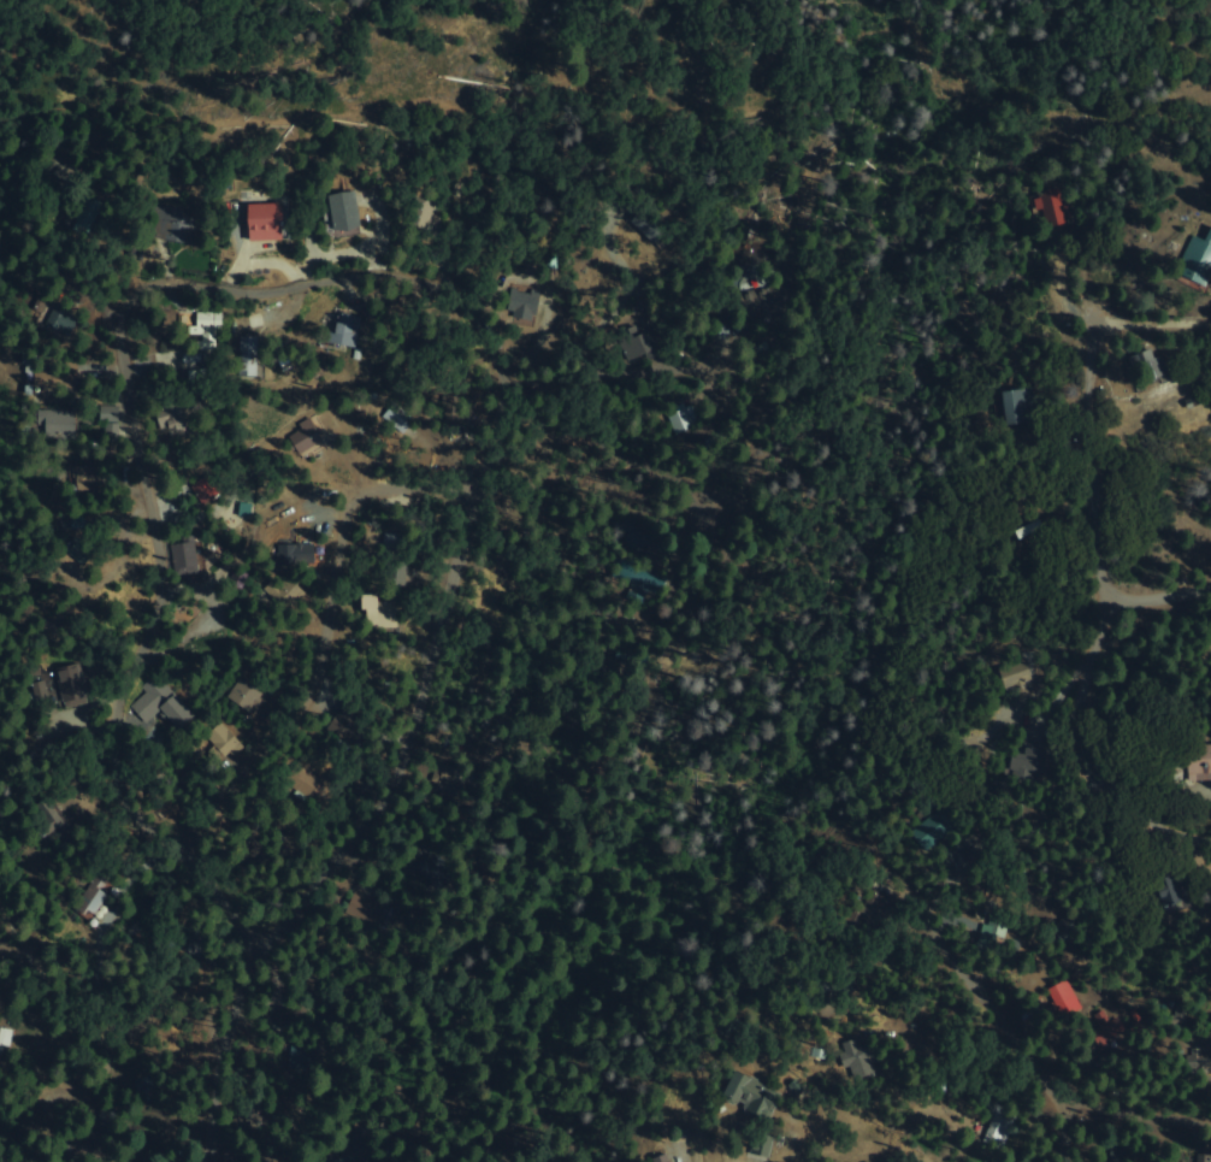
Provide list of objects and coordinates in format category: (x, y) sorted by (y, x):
road: (632, 90)
building: (1046, 210)
building: (342, 211)
building: (83, 218)
building: (268, 220)
building: (187, 230)
building: (1195, 258)
building: (764, 305)
building: (341, 330)
building: (208, 332)
building: (355, 354)
building: (1144, 367)
road: (131, 382)
building: (1014, 407)
road: (1091, 409)
building: (677, 417)
building: (395, 419)
building: (171, 420)
building: (107, 424)
building: (302, 435)
road: (639, 454)
building: (88, 478)
building: (283, 590)
road: (1157, 601)
building: (379, 612)
road: (323, 620)
building: (71, 683)
building: (160, 706)
building: (339, 731)
road: (940, 754)
road: (1087, 762)
building: (1191, 762)
building: (929, 826)
road: (350, 838)
building: (90, 902)
building: (988, 928)
road: (997, 972)
building: (1061, 999)
building: (858, 1057)
building: (1198, 1062)
building: (750, 1096)
road: (94, 1097)
road: (1138, 1117)
road: (687, 1148)
building: (661, 1158)
building: (1191, 1160)

